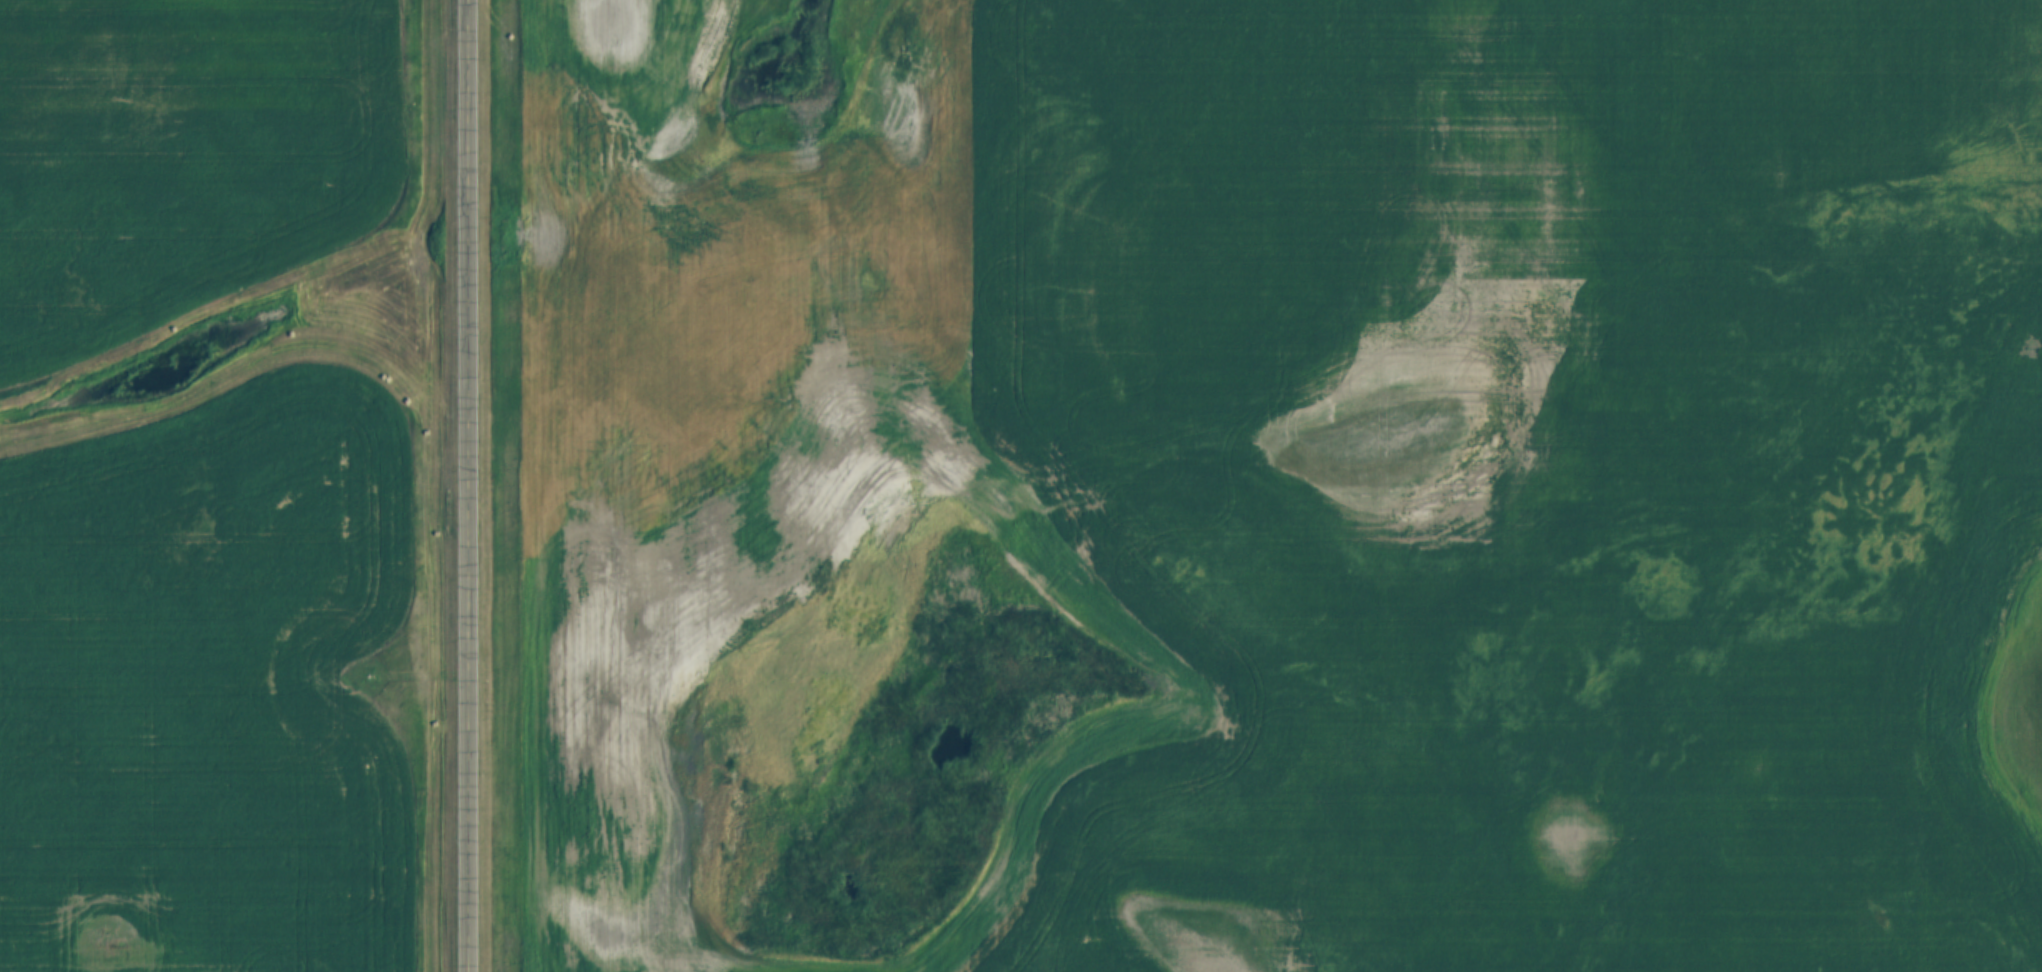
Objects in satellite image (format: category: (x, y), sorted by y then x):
road: (467, 486)

